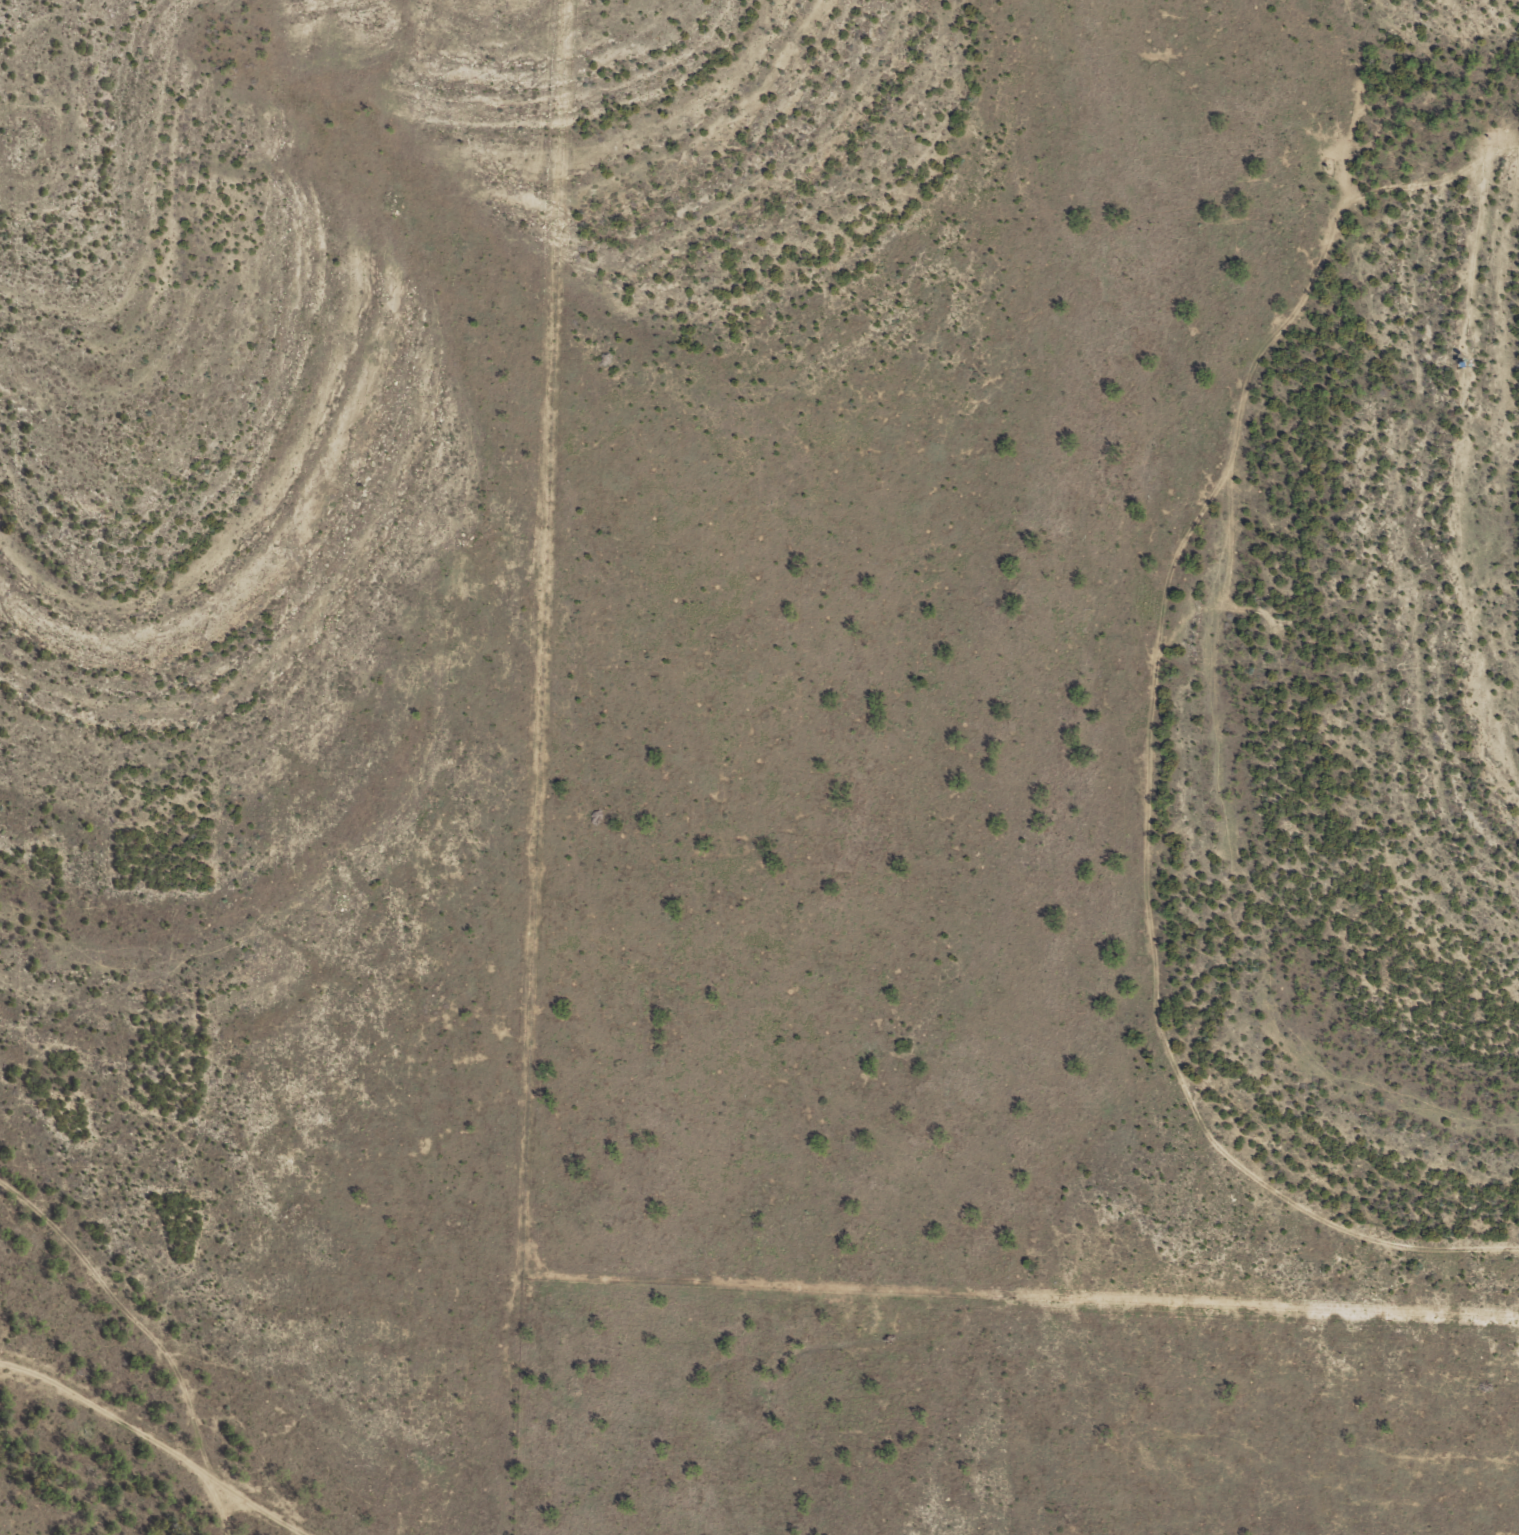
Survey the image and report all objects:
road: (138, 1433)
road: (297, 1525)

